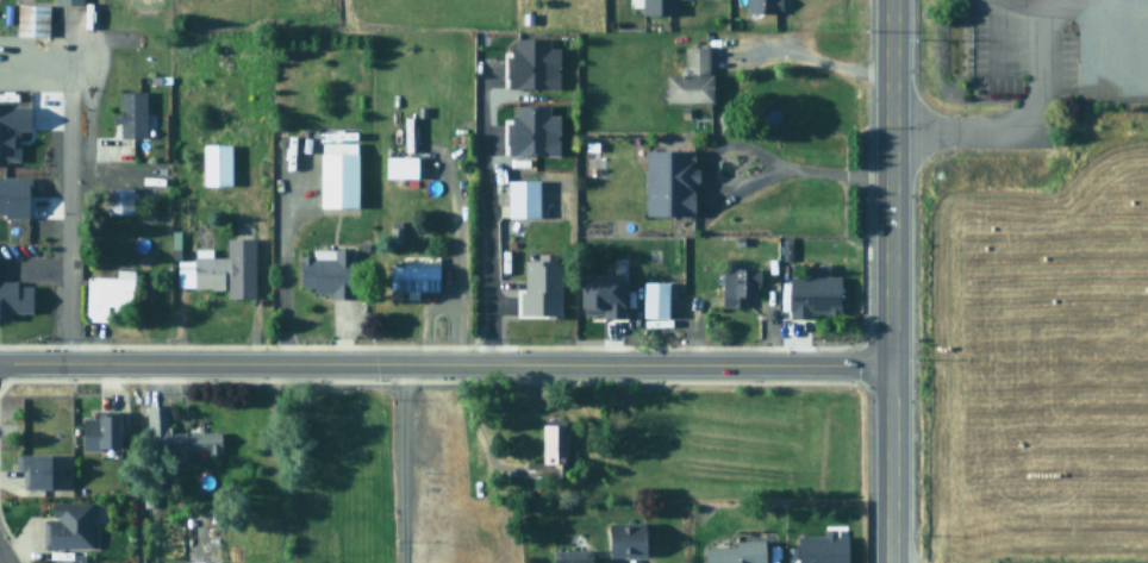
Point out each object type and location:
building: (67, 4)
road: (1024, 4)
building: (763, 6)
building: (659, 7)
building: (30, 23)
road: (816, 57)
building: (532, 64)
building: (691, 80)
building: (131, 113)
road: (1025, 123)
building: (12, 130)
building: (532, 131)
building: (216, 167)
road: (710, 167)
building: (399, 169)
road: (832, 173)
building: (337, 177)
building: (668, 186)
building: (14, 196)
building: (523, 199)
building: (117, 204)
road: (74, 214)
road: (488, 249)
road: (286, 255)
building: (220, 271)
building: (325, 274)
building: (413, 276)
road: (891, 281)
building: (541, 286)
building: (737, 288)
building: (604, 293)
building: (815, 294)
building: (106, 296)
building: (14, 299)
building: (654, 302)
road: (445, 369)
building: (98, 432)
building: (175, 438)
building: (550, 452)
road: (388, 465)
building: (32, 473)
building: (65, 527)
building: (624, 539)
building: (822, 549)
building: (736, 553)
building: (570, 557)
road: (0, 562)
building: (212, 562)

